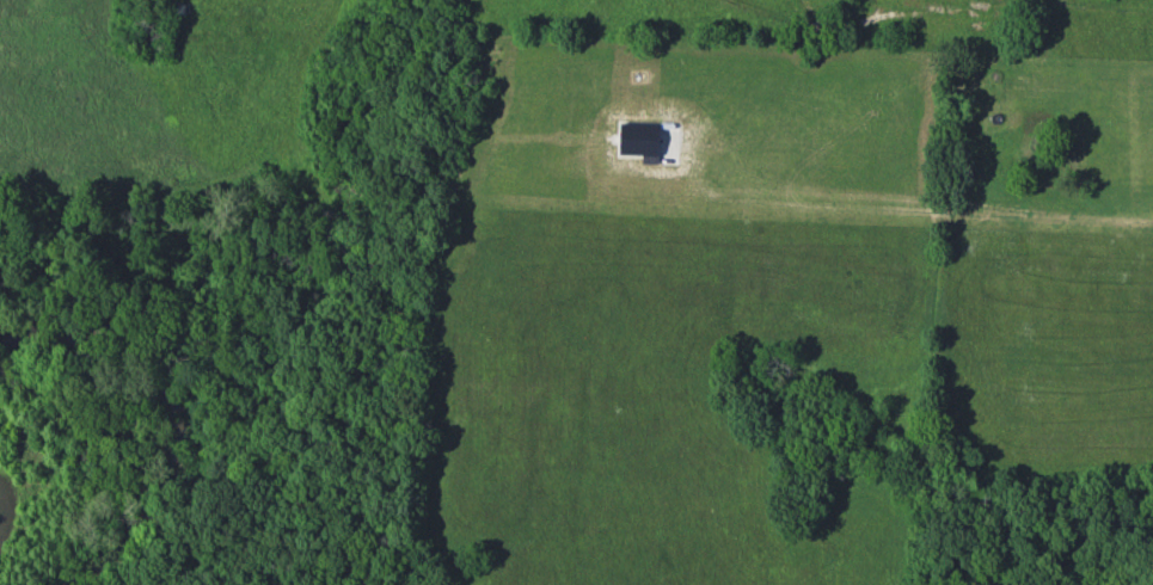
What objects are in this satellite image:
building: (639, 140)

